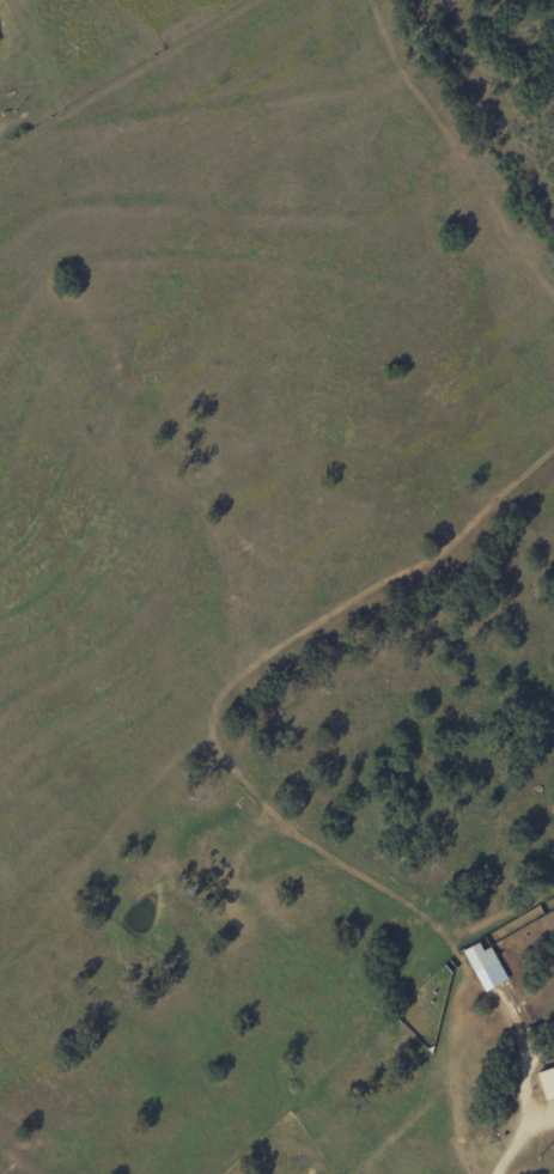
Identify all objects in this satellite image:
building: (553, 816)
building: (479, 955)
building: (546, 1081)
road: (511, 1137)

